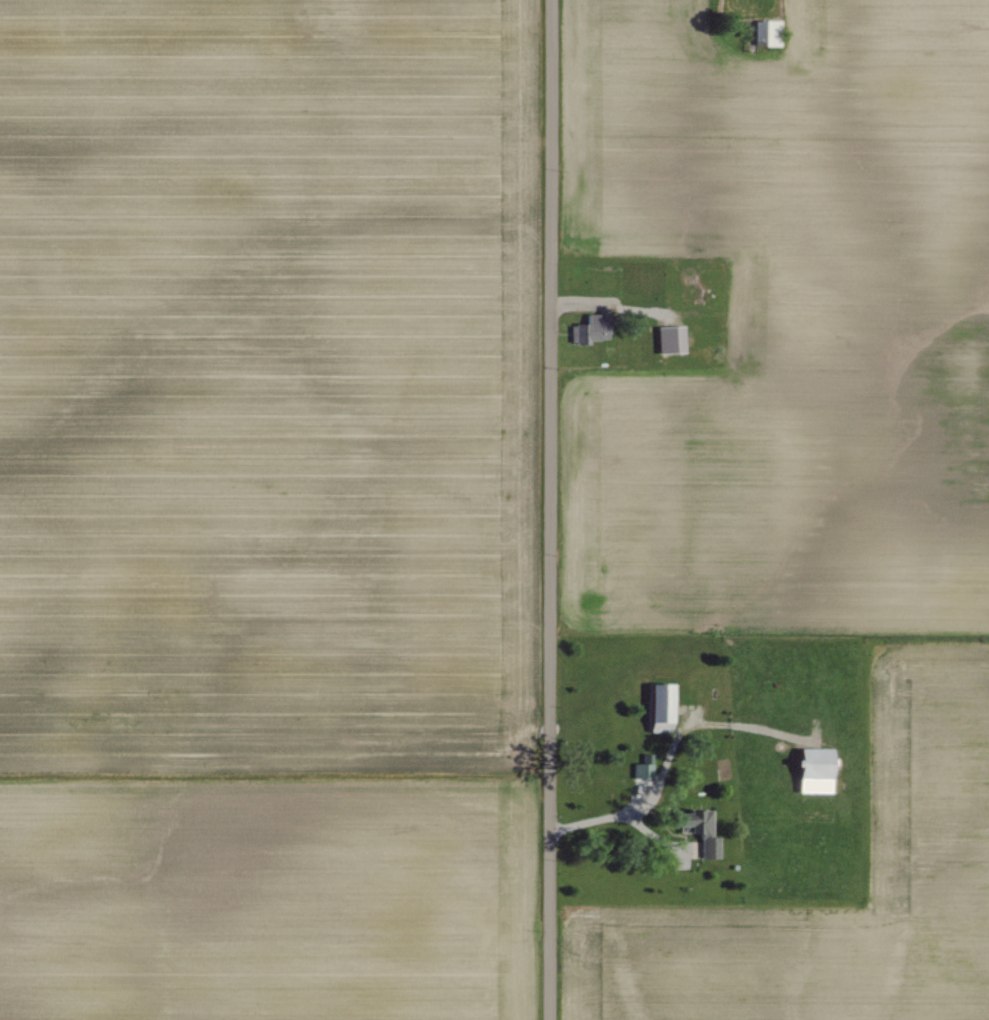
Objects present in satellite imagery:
building: (765, 33)
building: (589, 330)
building: (667, 340)
road: (547, 509)
building: (657, 709)
building: (643, 767)
building: (810, 771)
road: (622, 820)
building: (698, 830)

